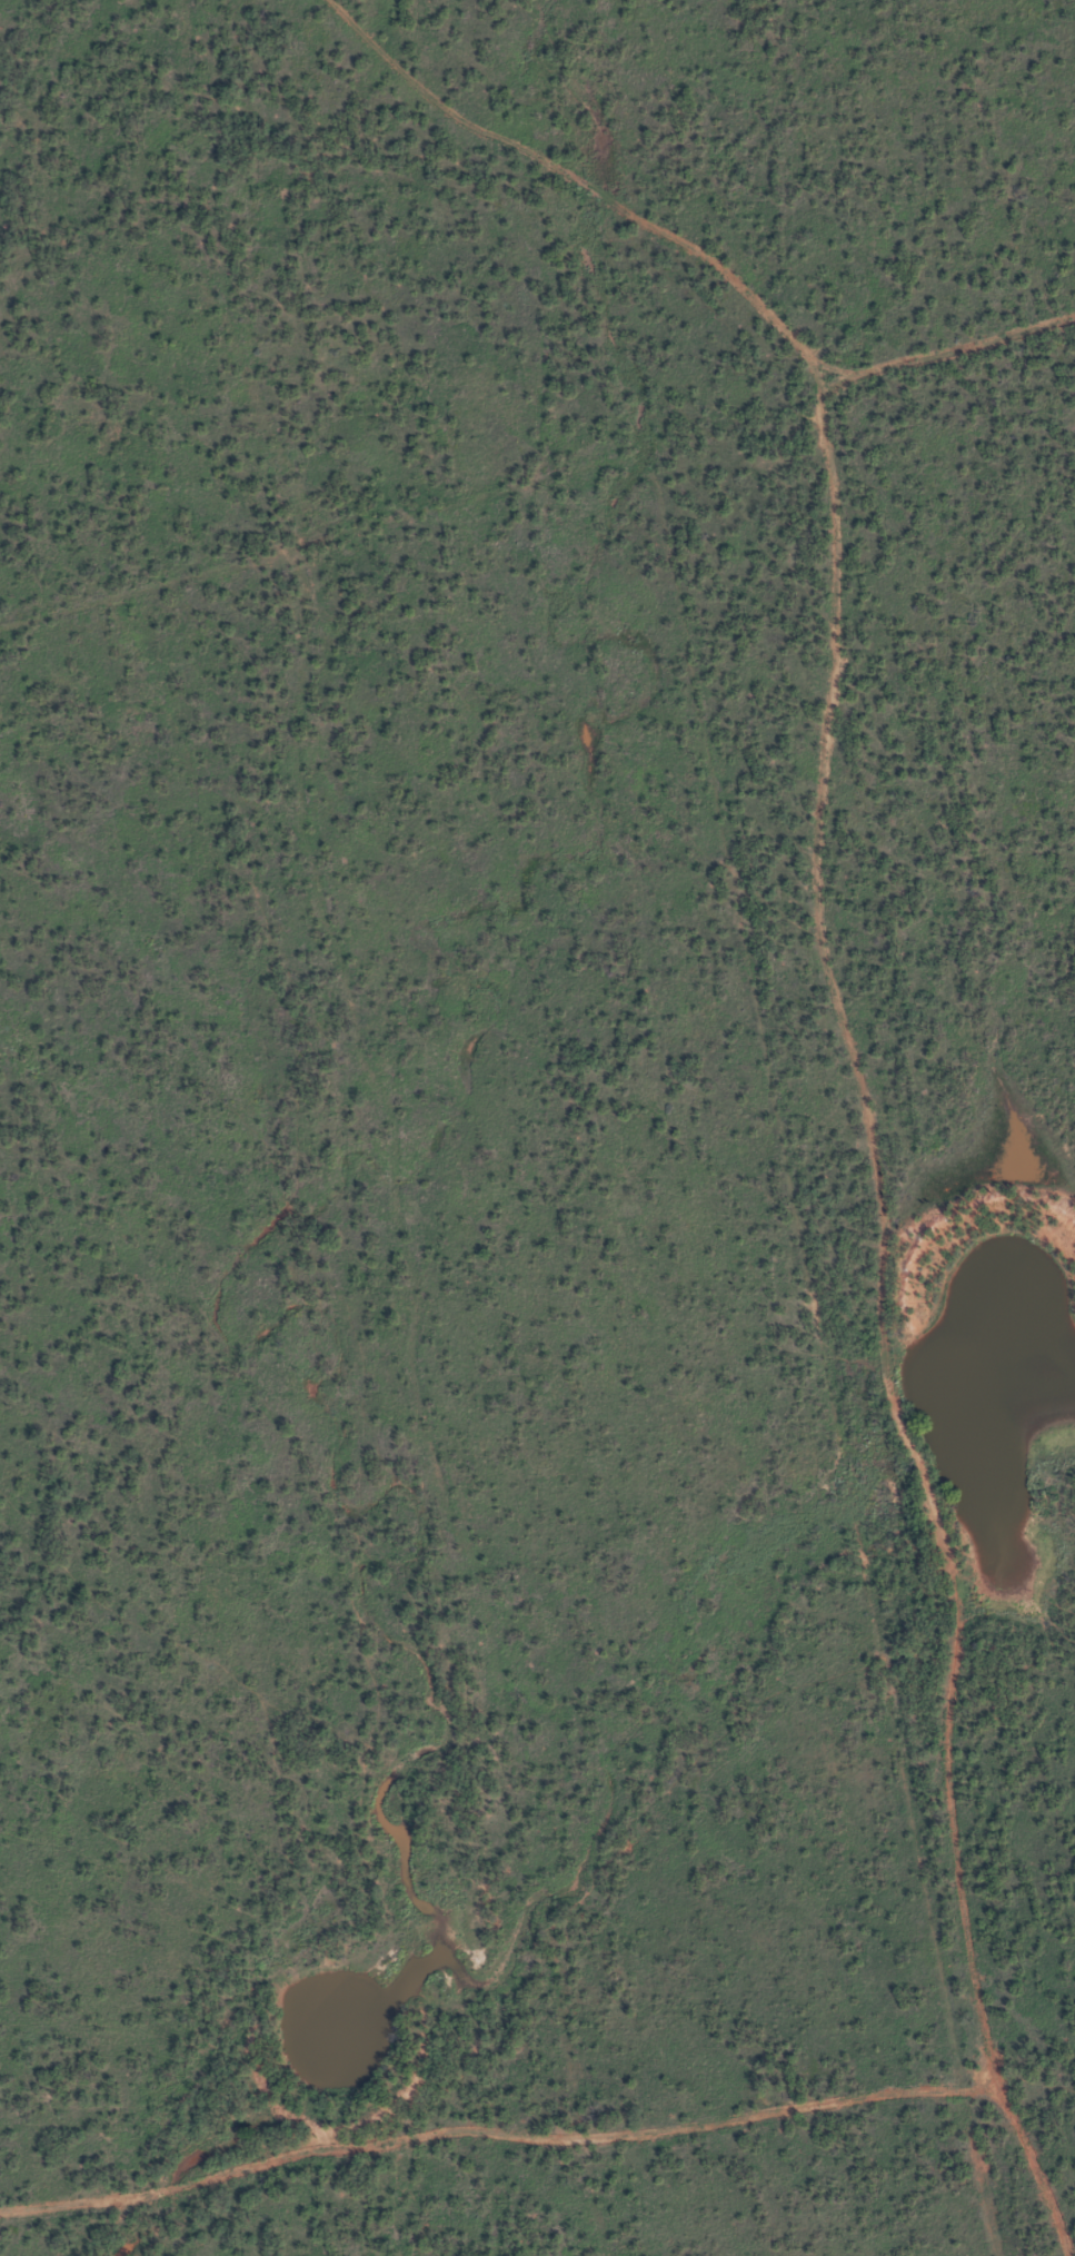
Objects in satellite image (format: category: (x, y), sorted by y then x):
road: (838, 1002)
road: (728, 2102)

